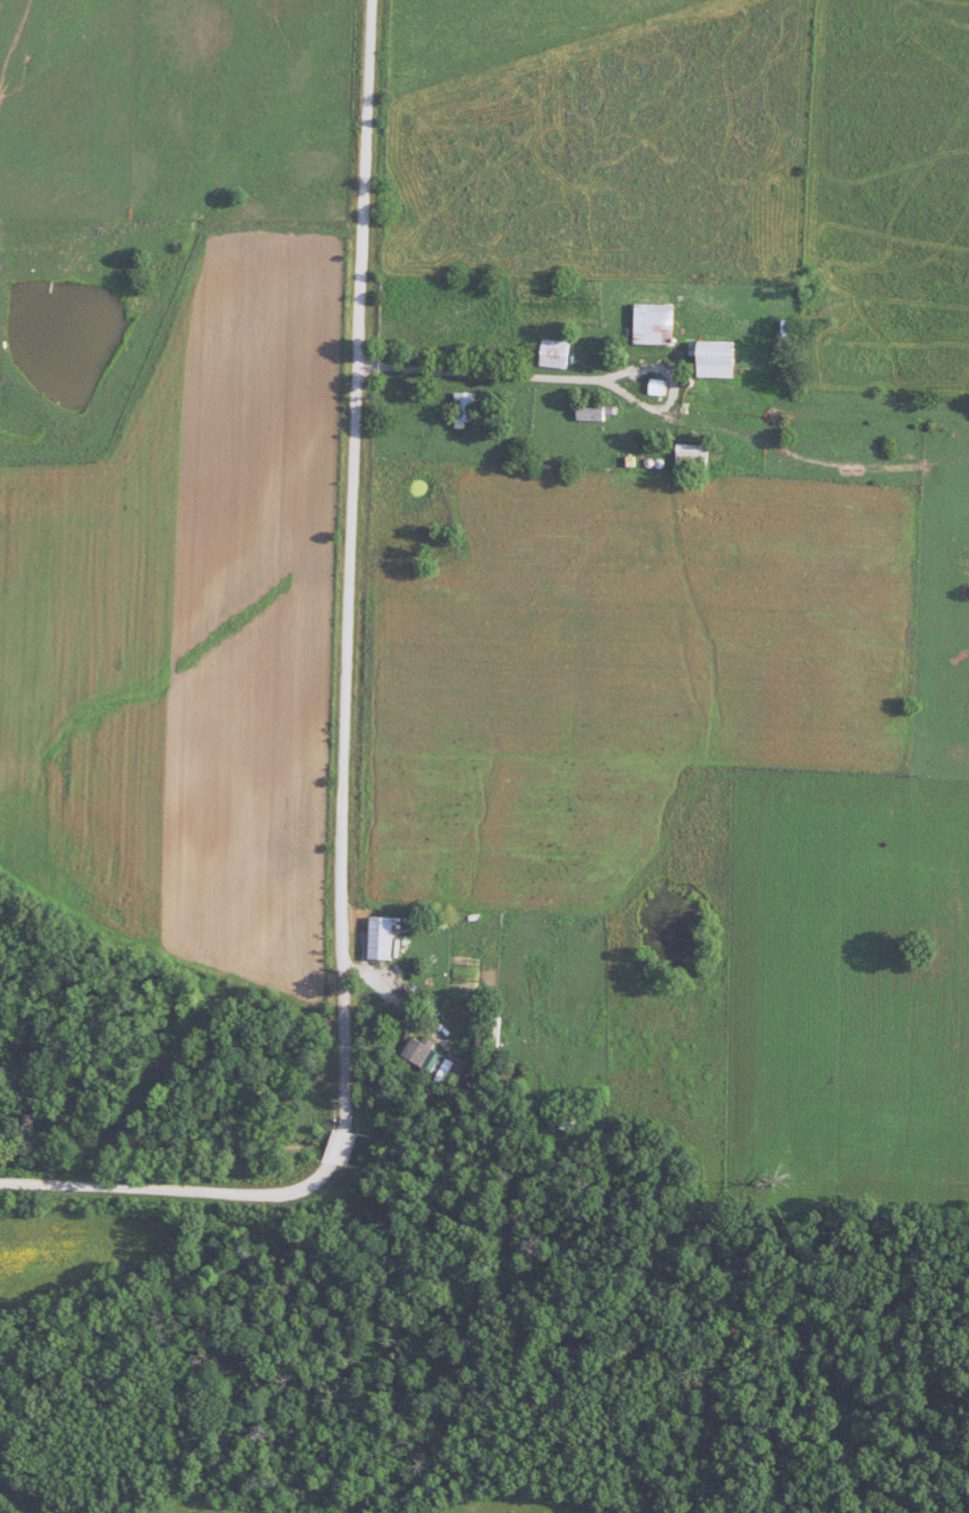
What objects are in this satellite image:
road: (182, 228)
building: (652, 324)
building: (555, 353)
building: (707, 359)
road: (492, 371)
building: (656, 387)
building: (465, 409)
building: (595, 413)
building: (690, 455)
road: (354, 477)
building: (379, 937)
road: (280, 1189)

